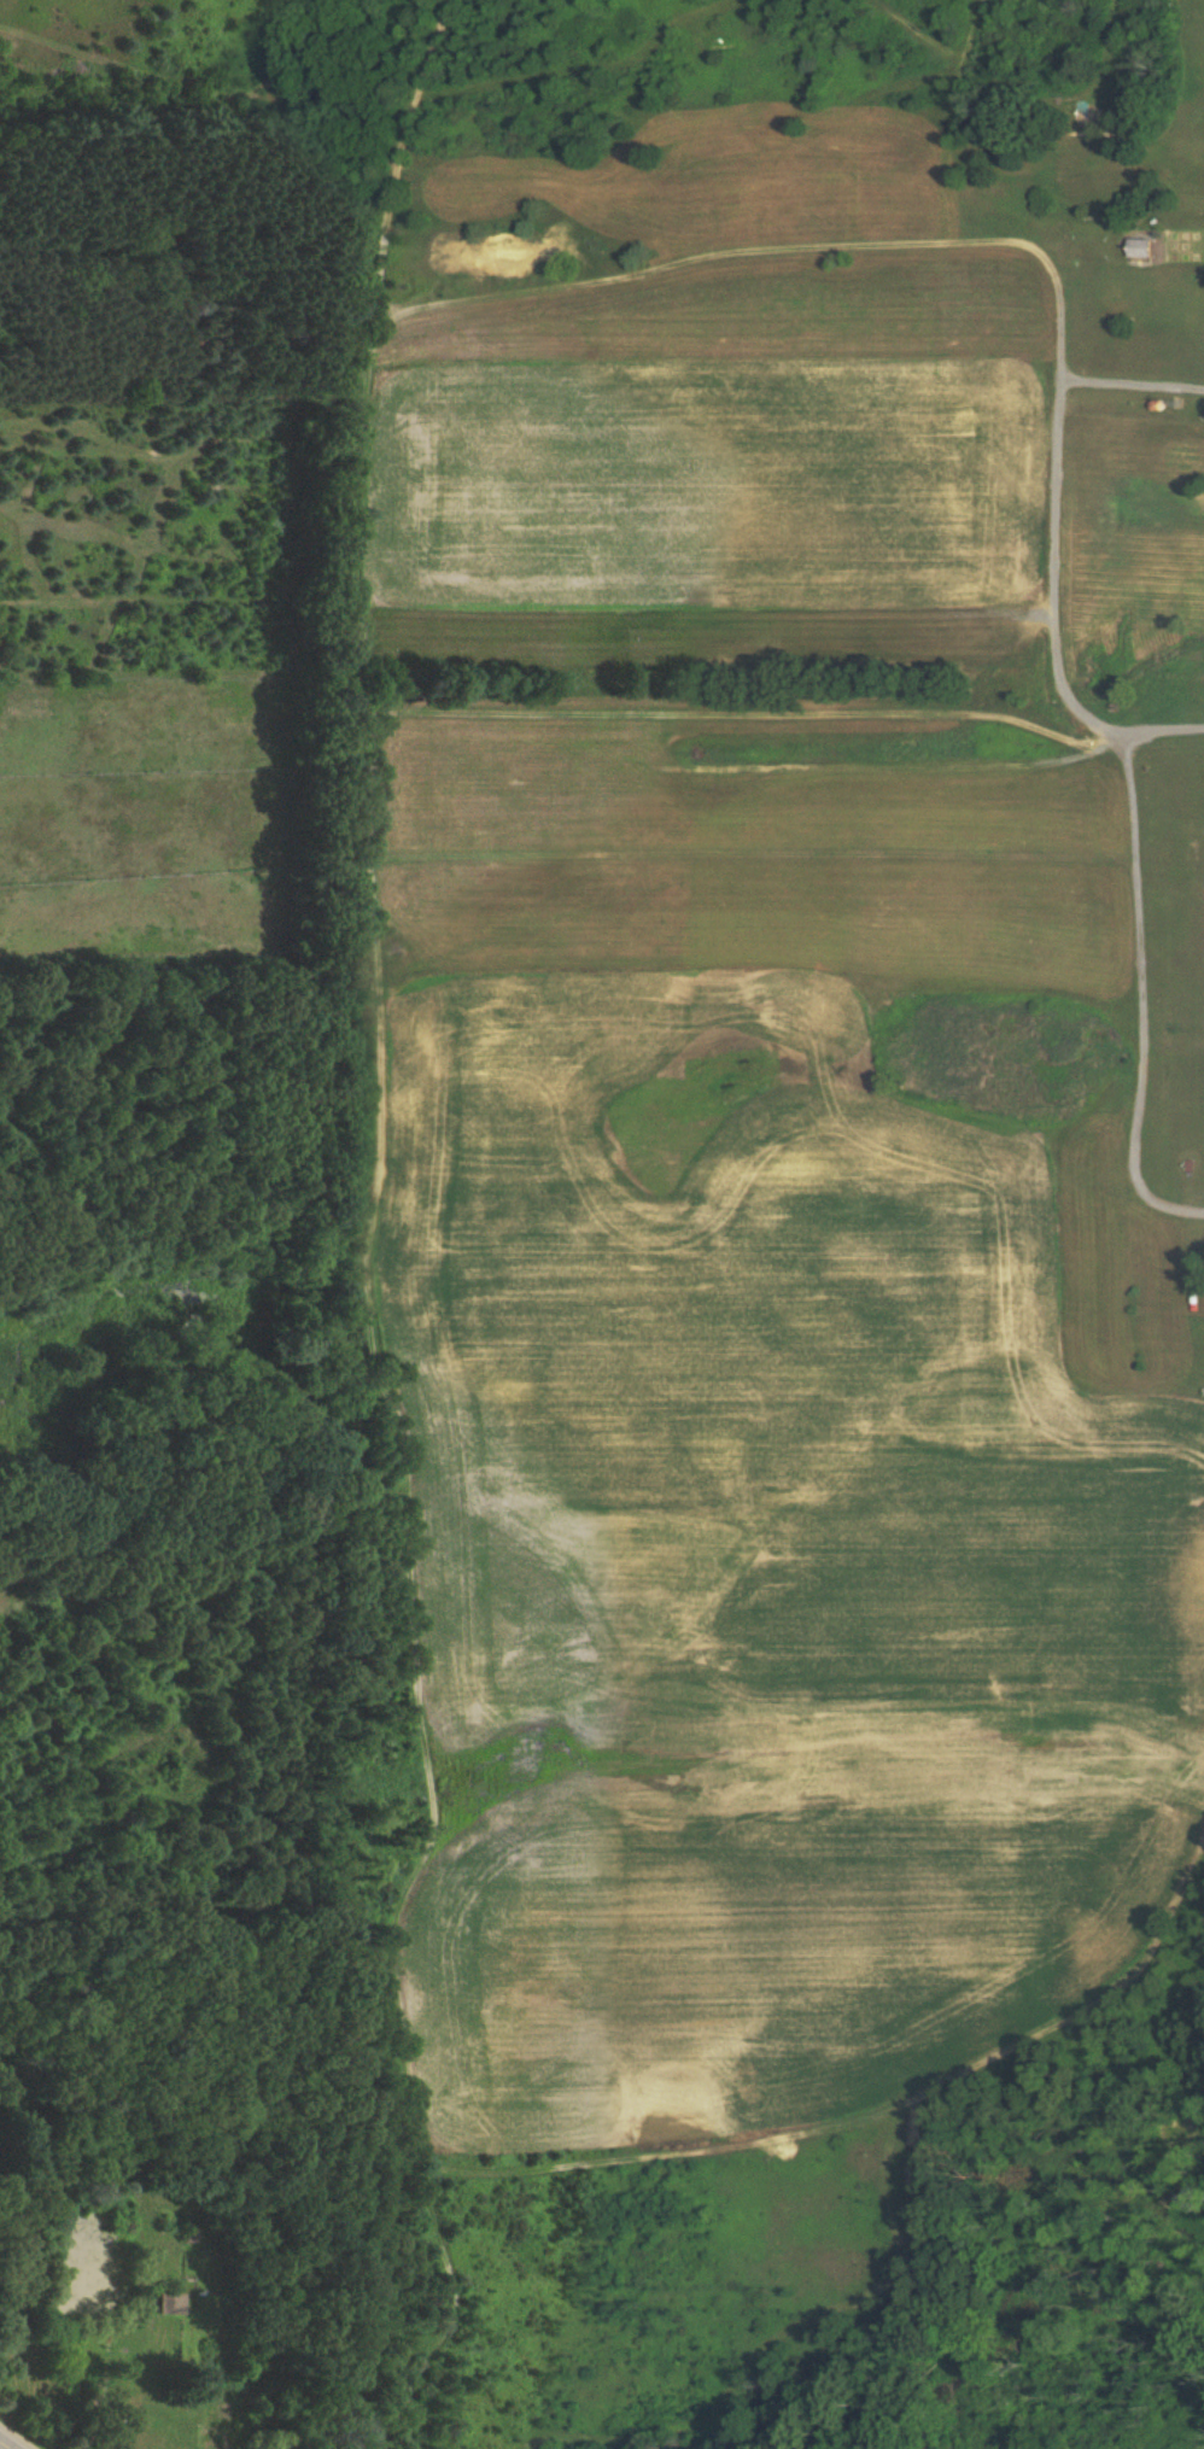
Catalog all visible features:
road: (1052, 501)
road: (1134, 952)
building: (168, 2303)
road: (2, 2447)

